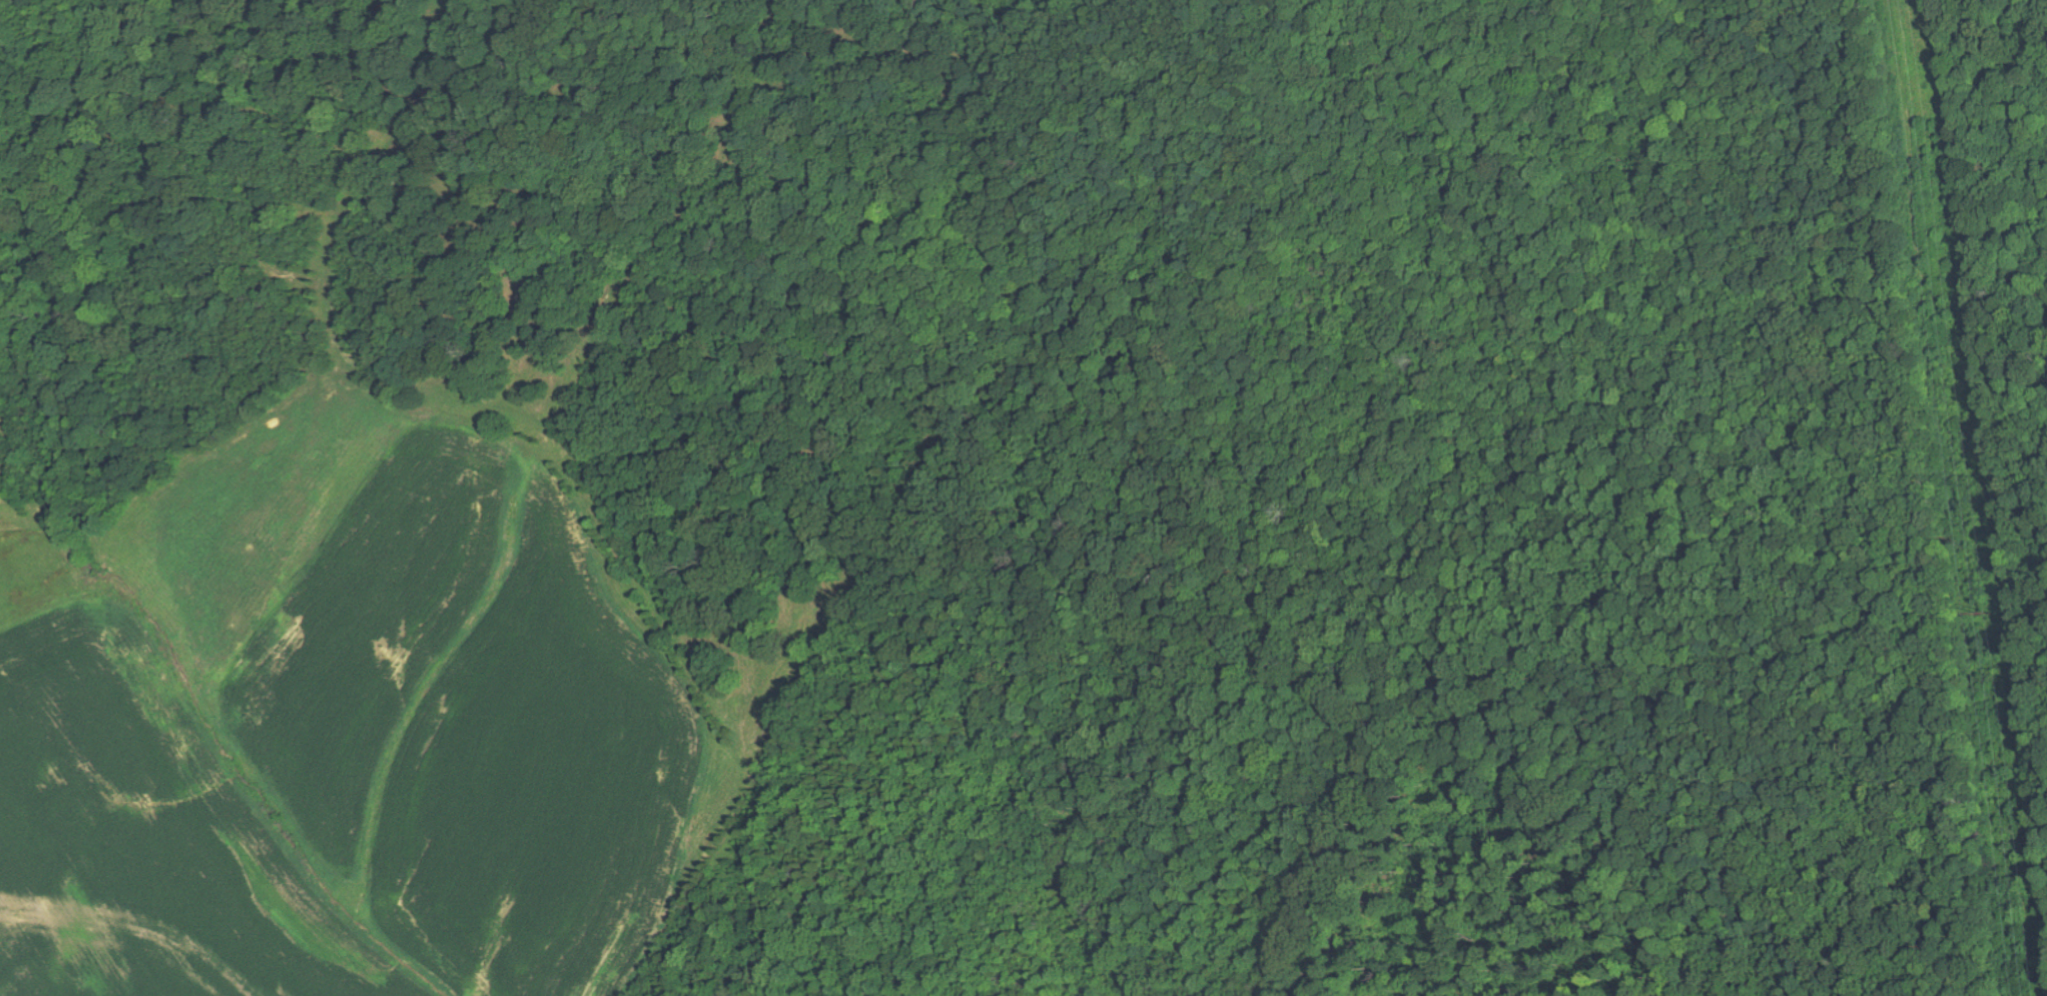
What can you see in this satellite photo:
power tower: (1990, 596)
power tower: (2012, 824)

